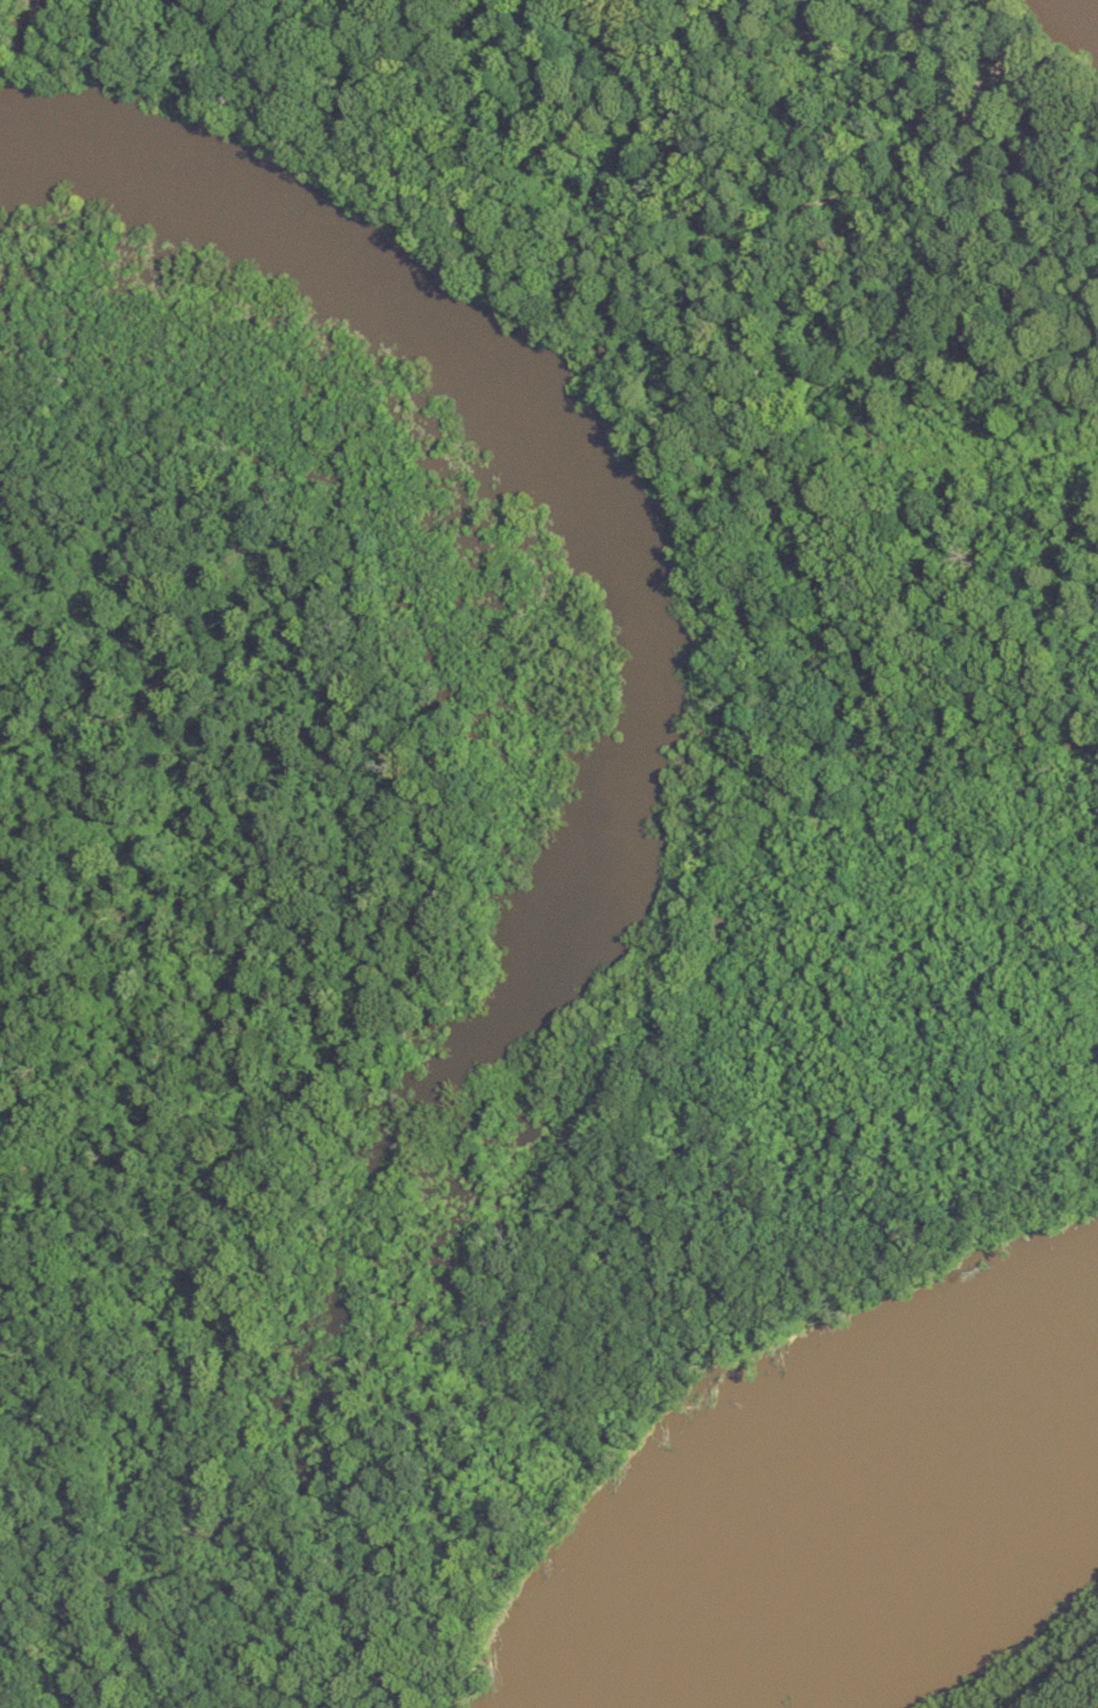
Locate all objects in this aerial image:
road: (771, 251)
river: (907, 1565)

